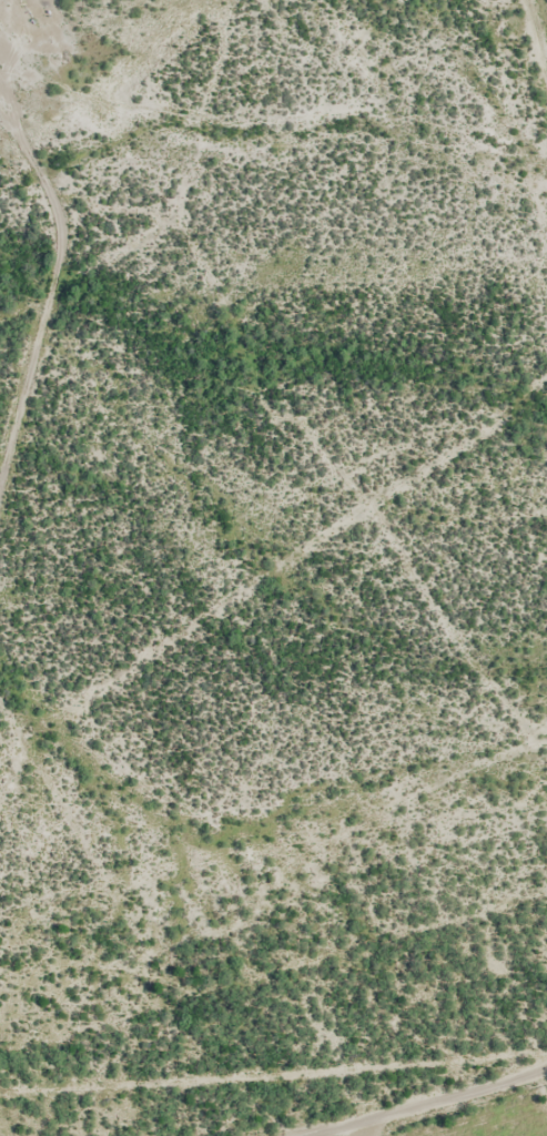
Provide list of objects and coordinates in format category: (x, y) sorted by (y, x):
road: (450, 1107)

